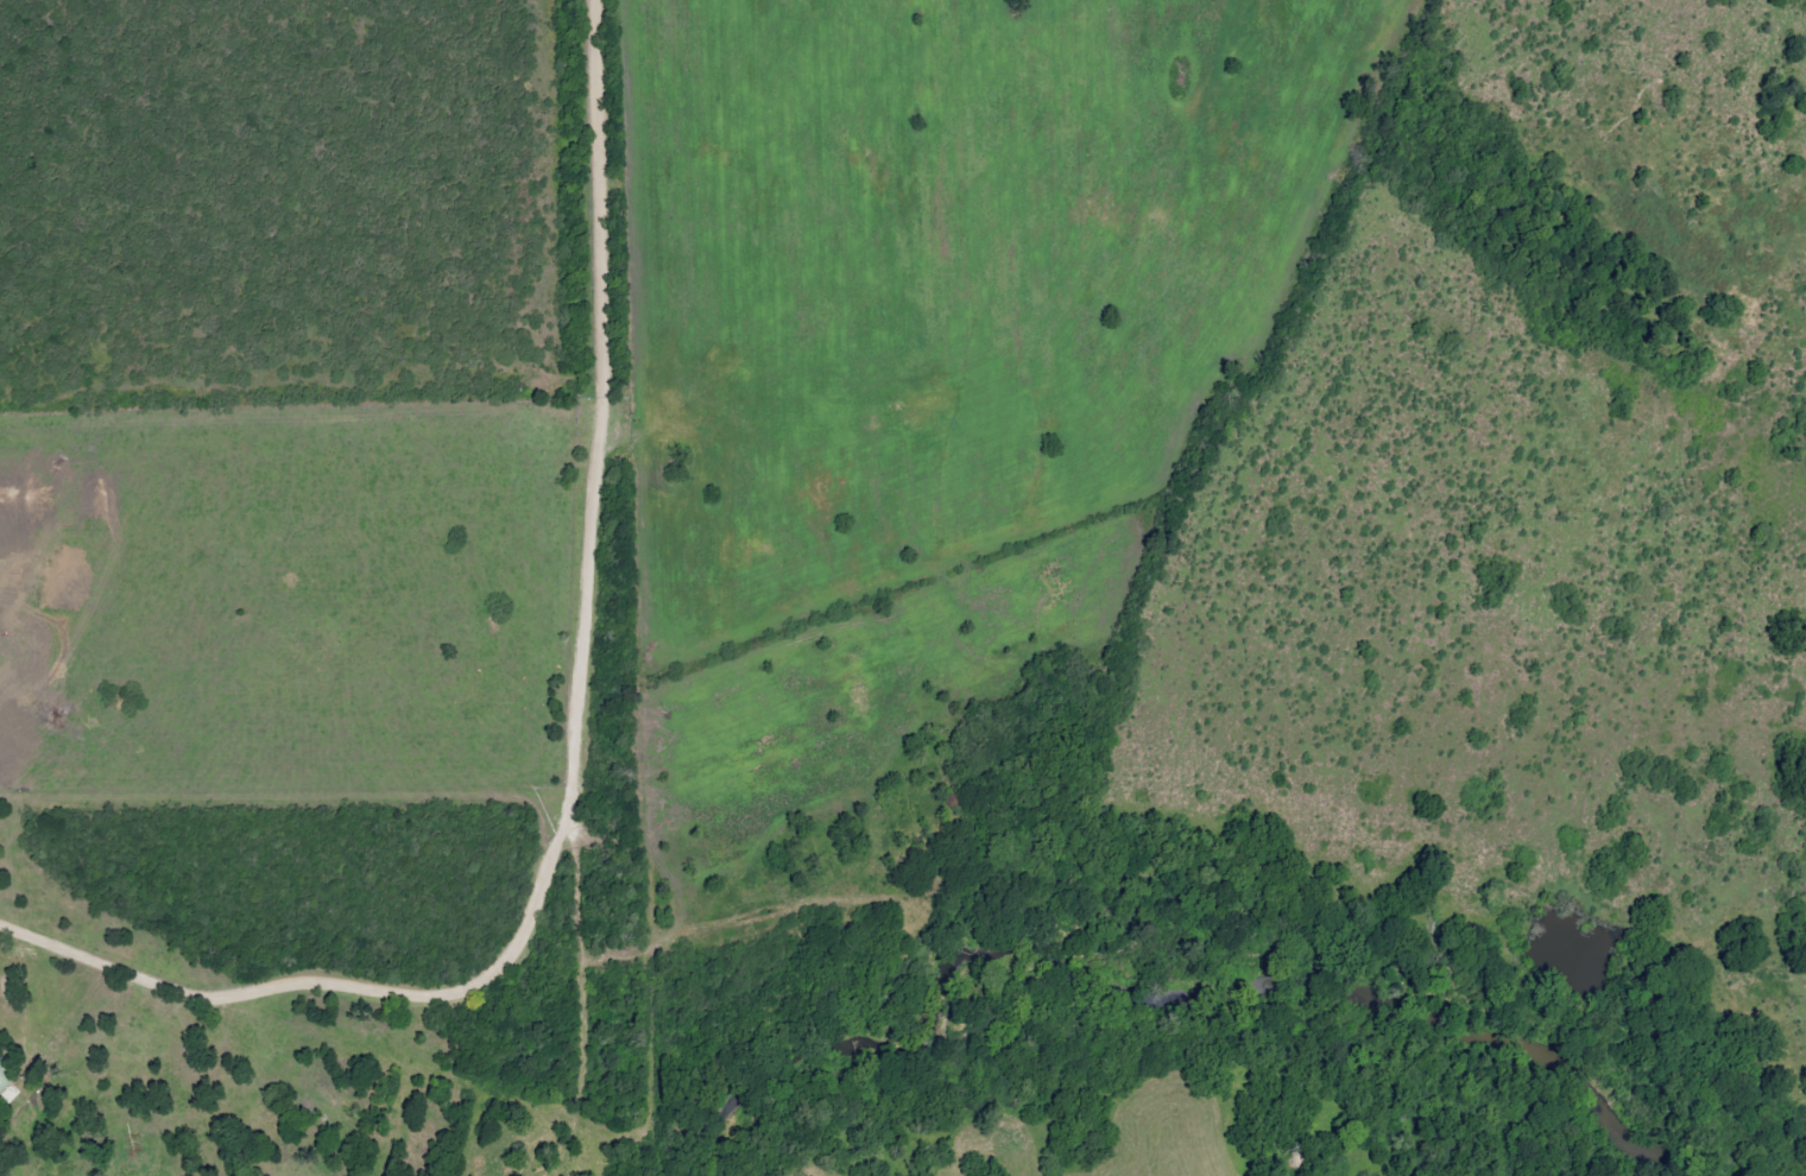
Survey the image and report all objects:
road: (568, 748)
building: (5, 1080)

